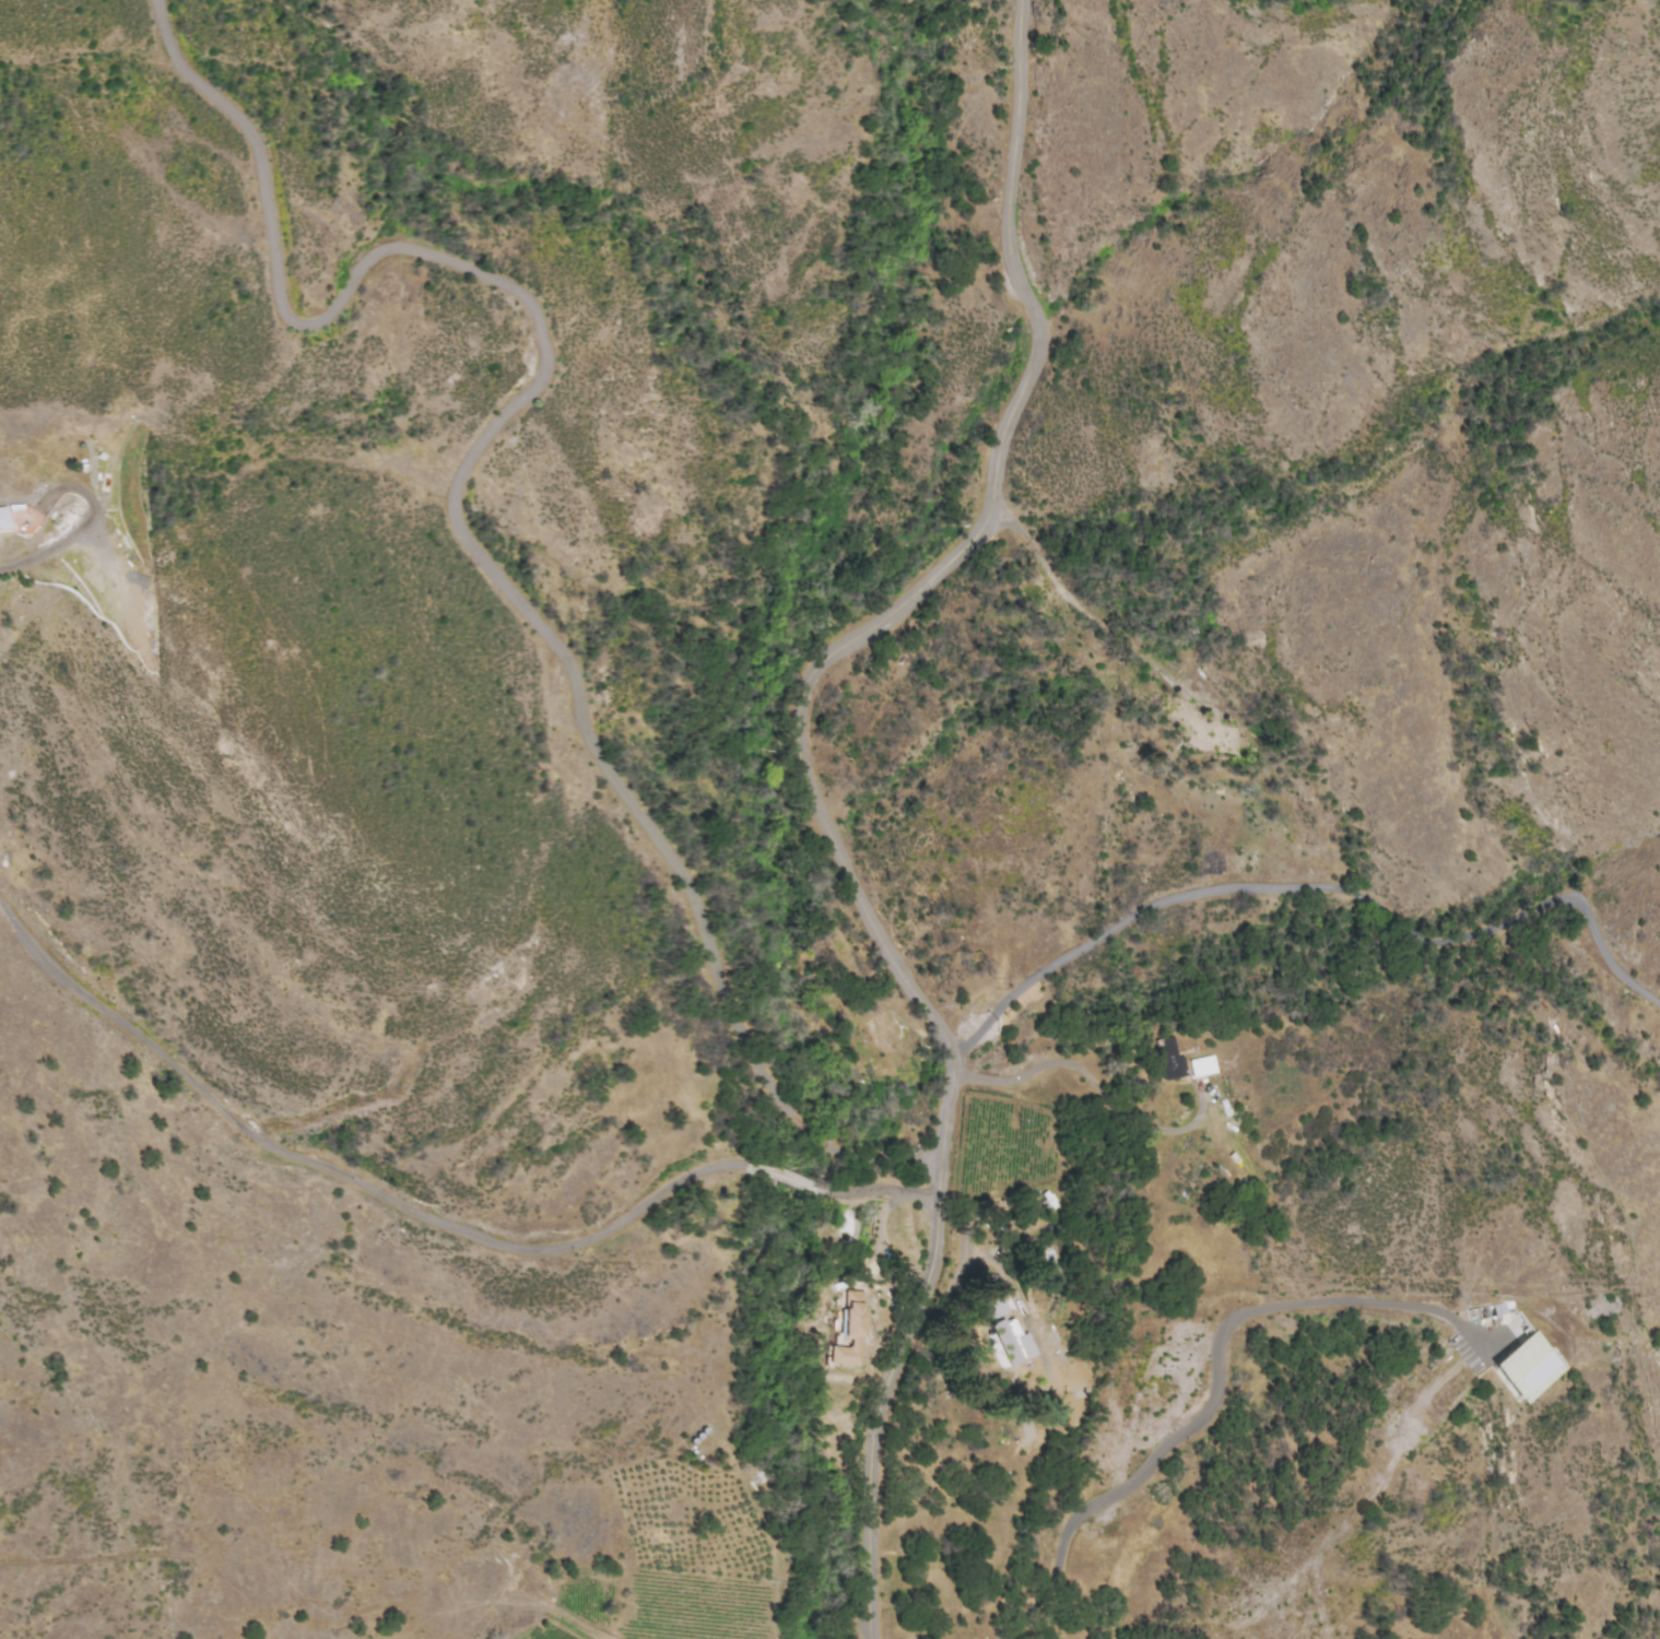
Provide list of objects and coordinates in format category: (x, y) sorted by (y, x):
road: (455, 497)
road: (83, 523)
road: (811, 797)
road: (1319, 886)
building: (1167, 1060)
building: (1201, 1066)
road: (1087, 1075)
road: (429, 1221)
building: (987, 1282)
building: (1503, 1308)
building: (847, 1332)
building: (1526, 1367)
road: (1218, 1384)

